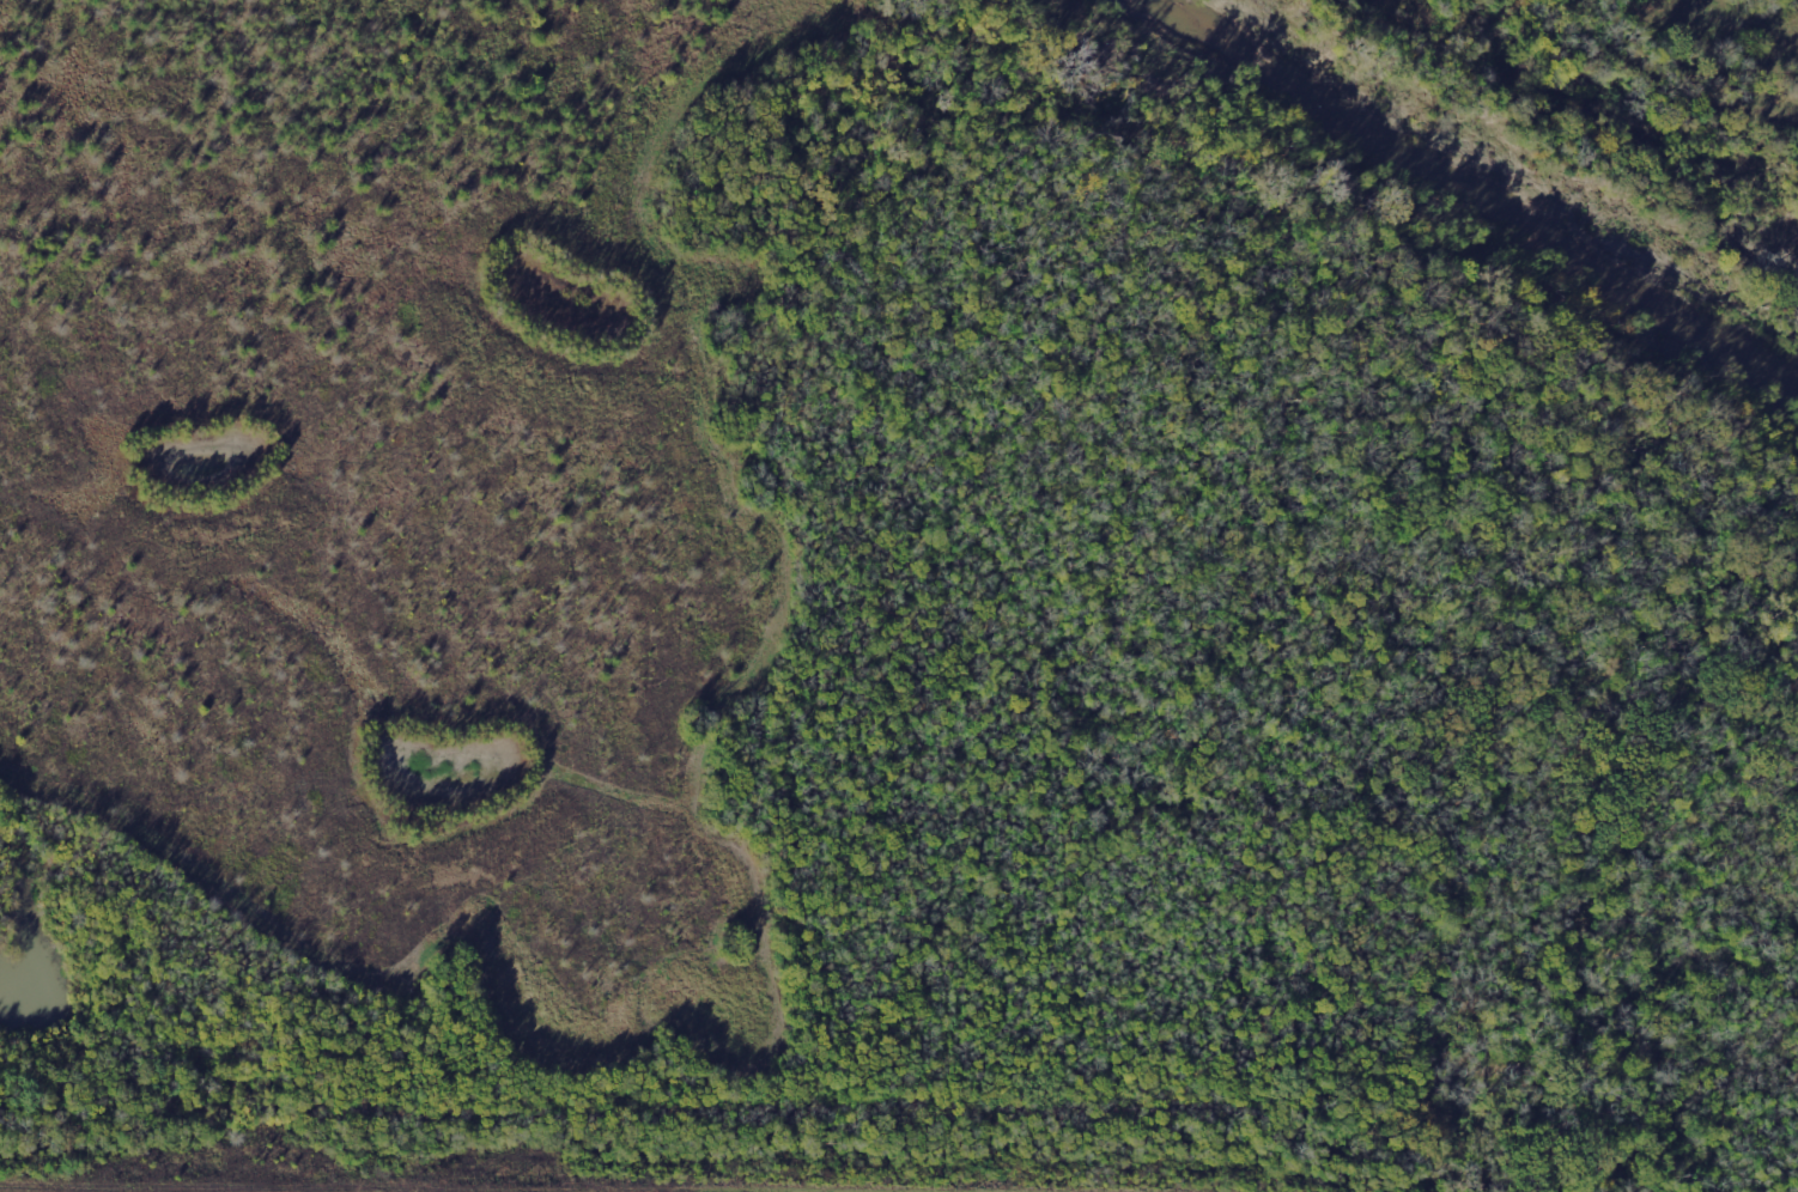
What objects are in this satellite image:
river: (1469, 196)

